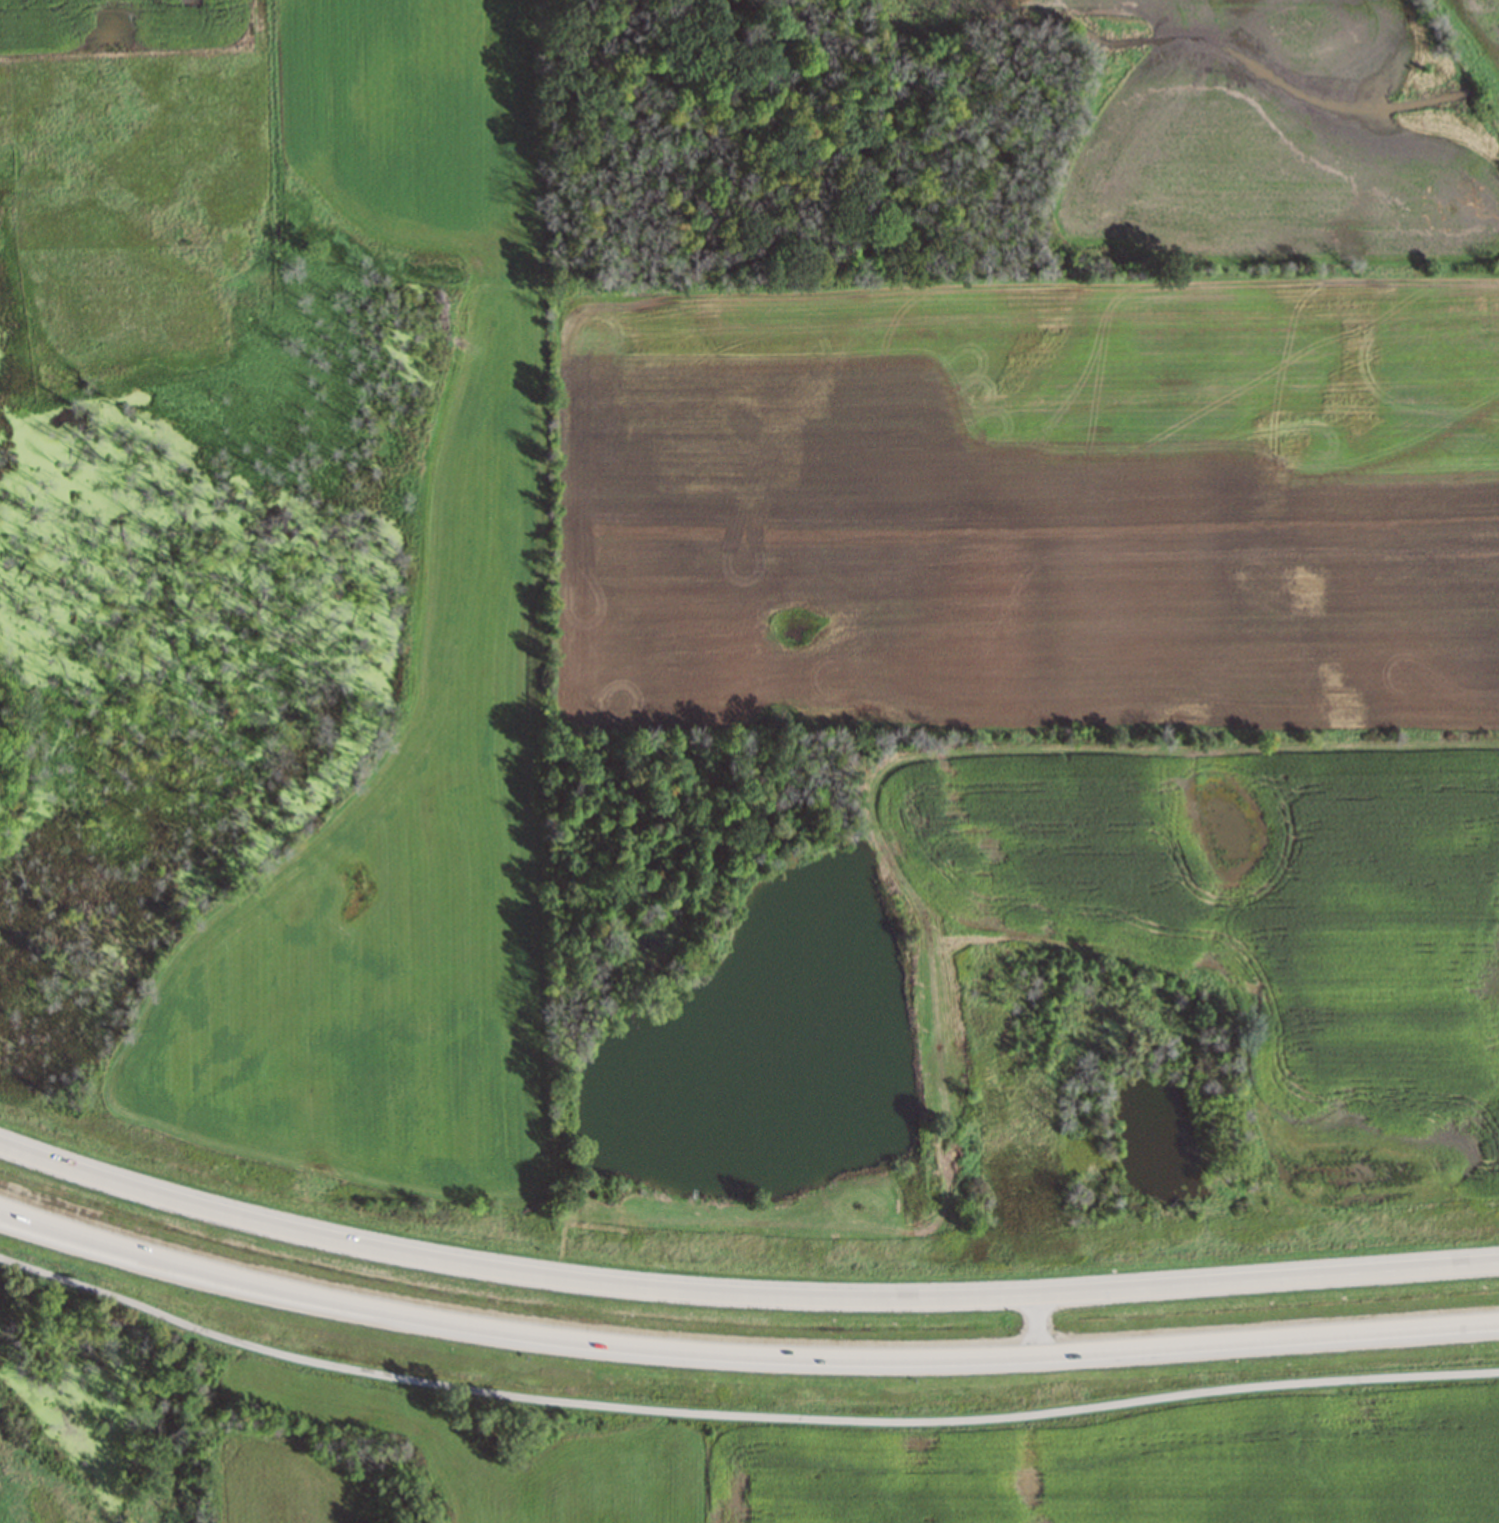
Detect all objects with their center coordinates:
road: (73, 1242)
road: (741, 1294)
road: (1038, 1324)
road: (741, 1354)
road: (740, 1414)

